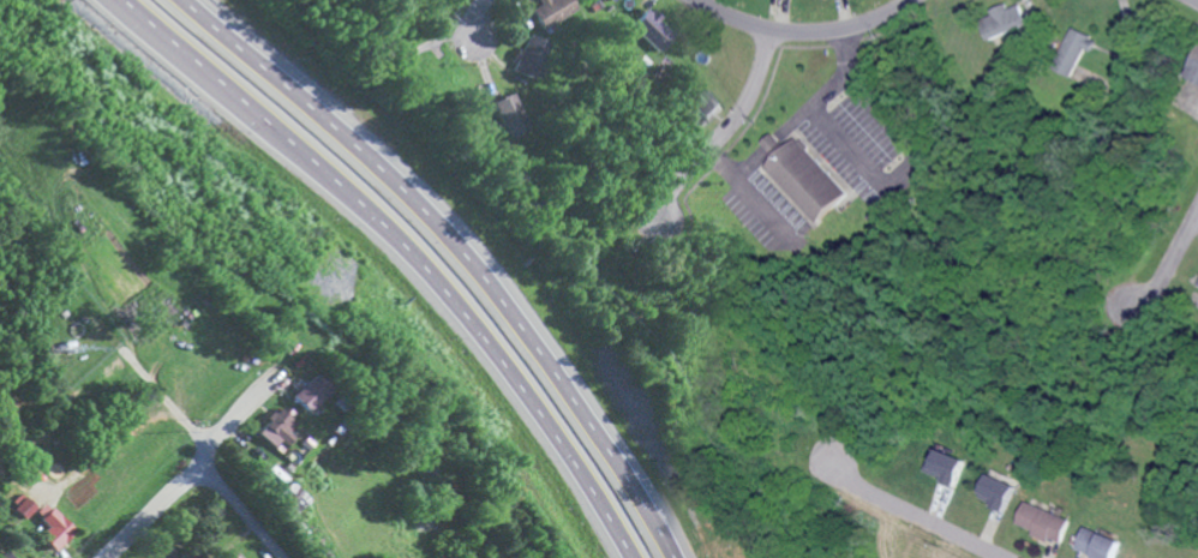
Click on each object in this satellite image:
building: (610, 0)
road: (1197, 0)
building: (551, 11)
road: (472, 18)
building: (1004, 20)
building: (652, 29)
road: (801, 31)
building: (1072, 50)
building: (529, 55)
building: (1193, 70)
road: (811, 106)
building: (703, 107)
building: (508, 116)
road: (724, 136)
road: (772, 143)
road: (920, 156)
road: (749, 163)
building: (808, 180)
road: (751, 197)
road: (1194, 215)
road: (460, 250)
road: (400, 251)
road: (1164, 262)
building: (1197, 286)
building: (309, 391)
building: (276, 427)
road: (192, 431)
building: (947, 464)
road: (194, 470)
building: (1001, 490)
road: (910, 512)
building: (1047, 521)
building: (53, 526)
building: (1102, 544)
building: (5, 554)

